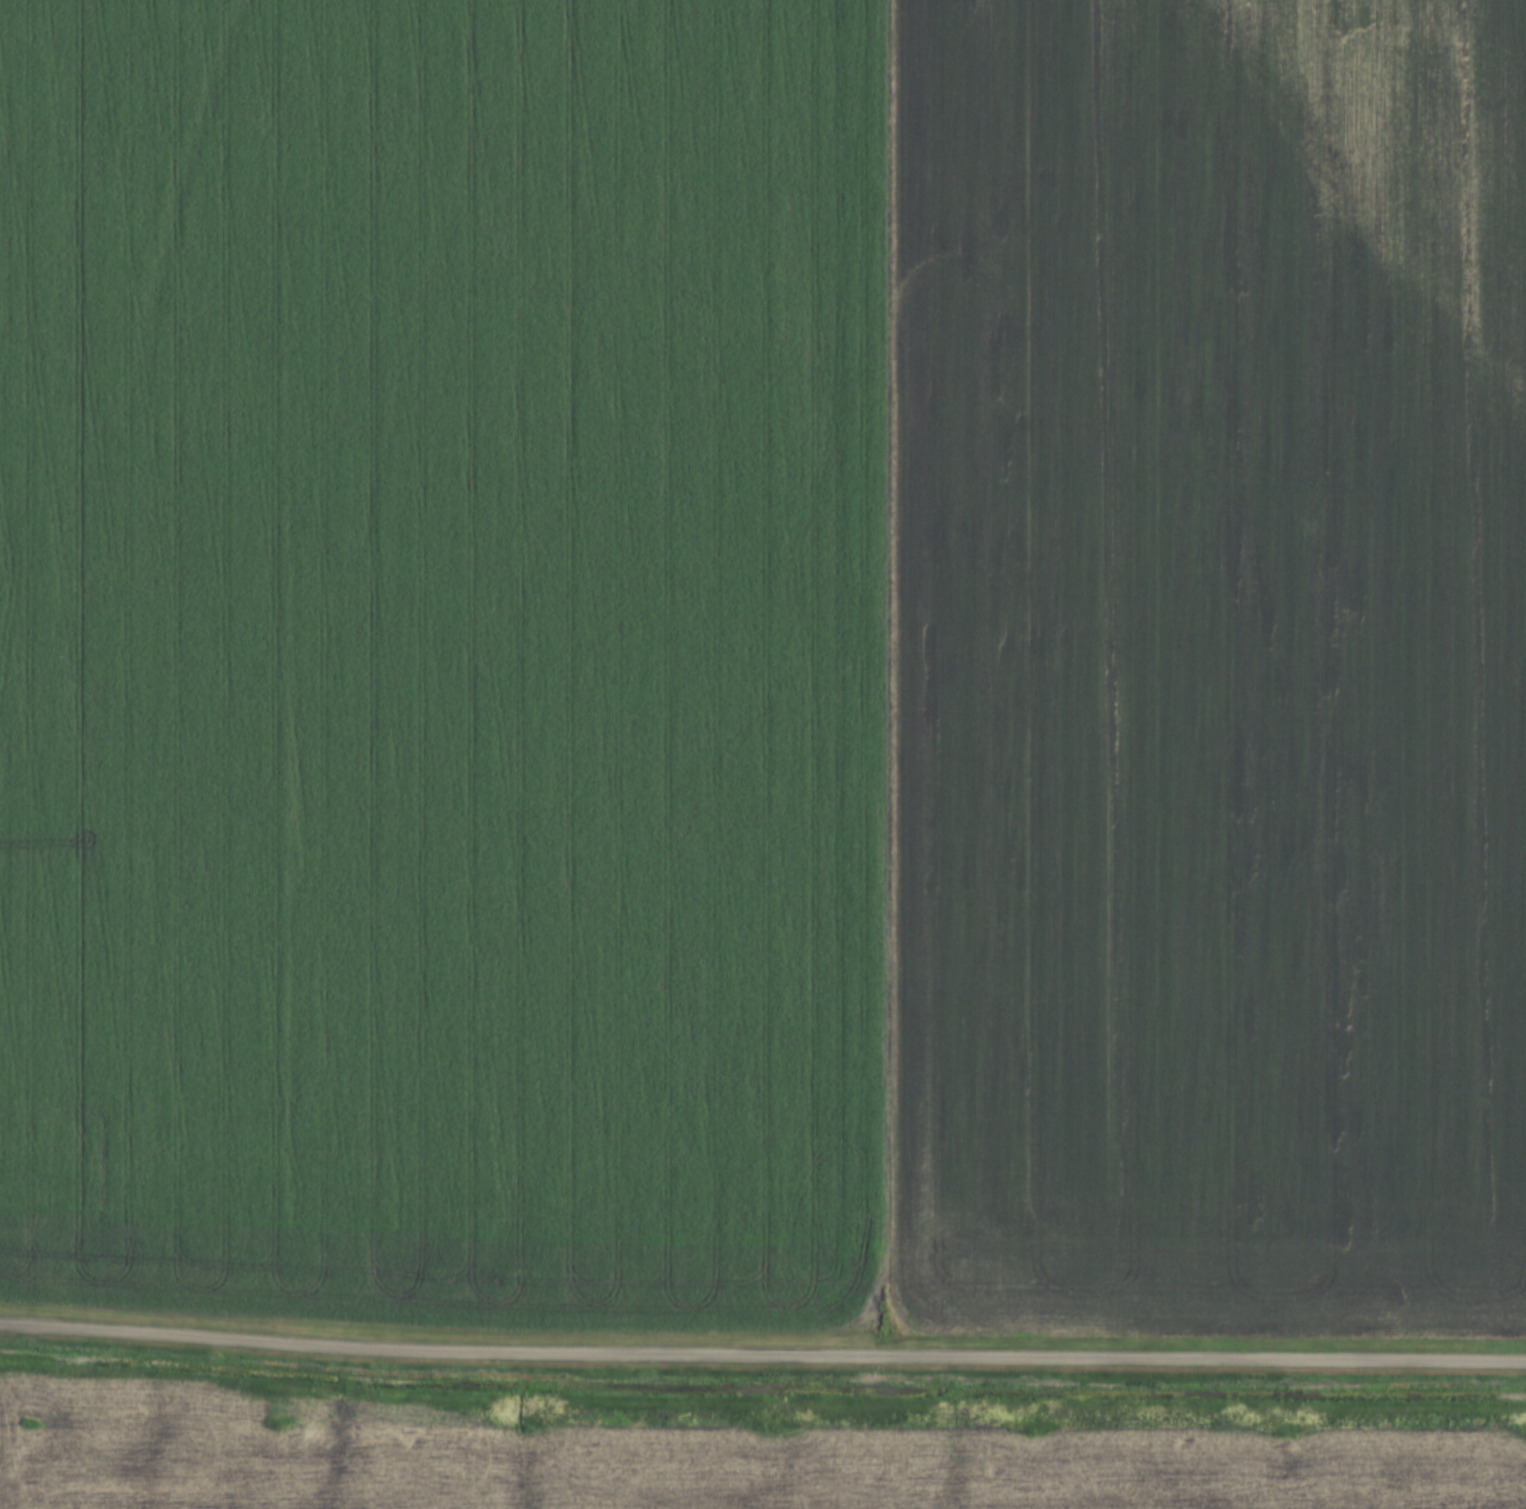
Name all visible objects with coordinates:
road: (762, 1359)

